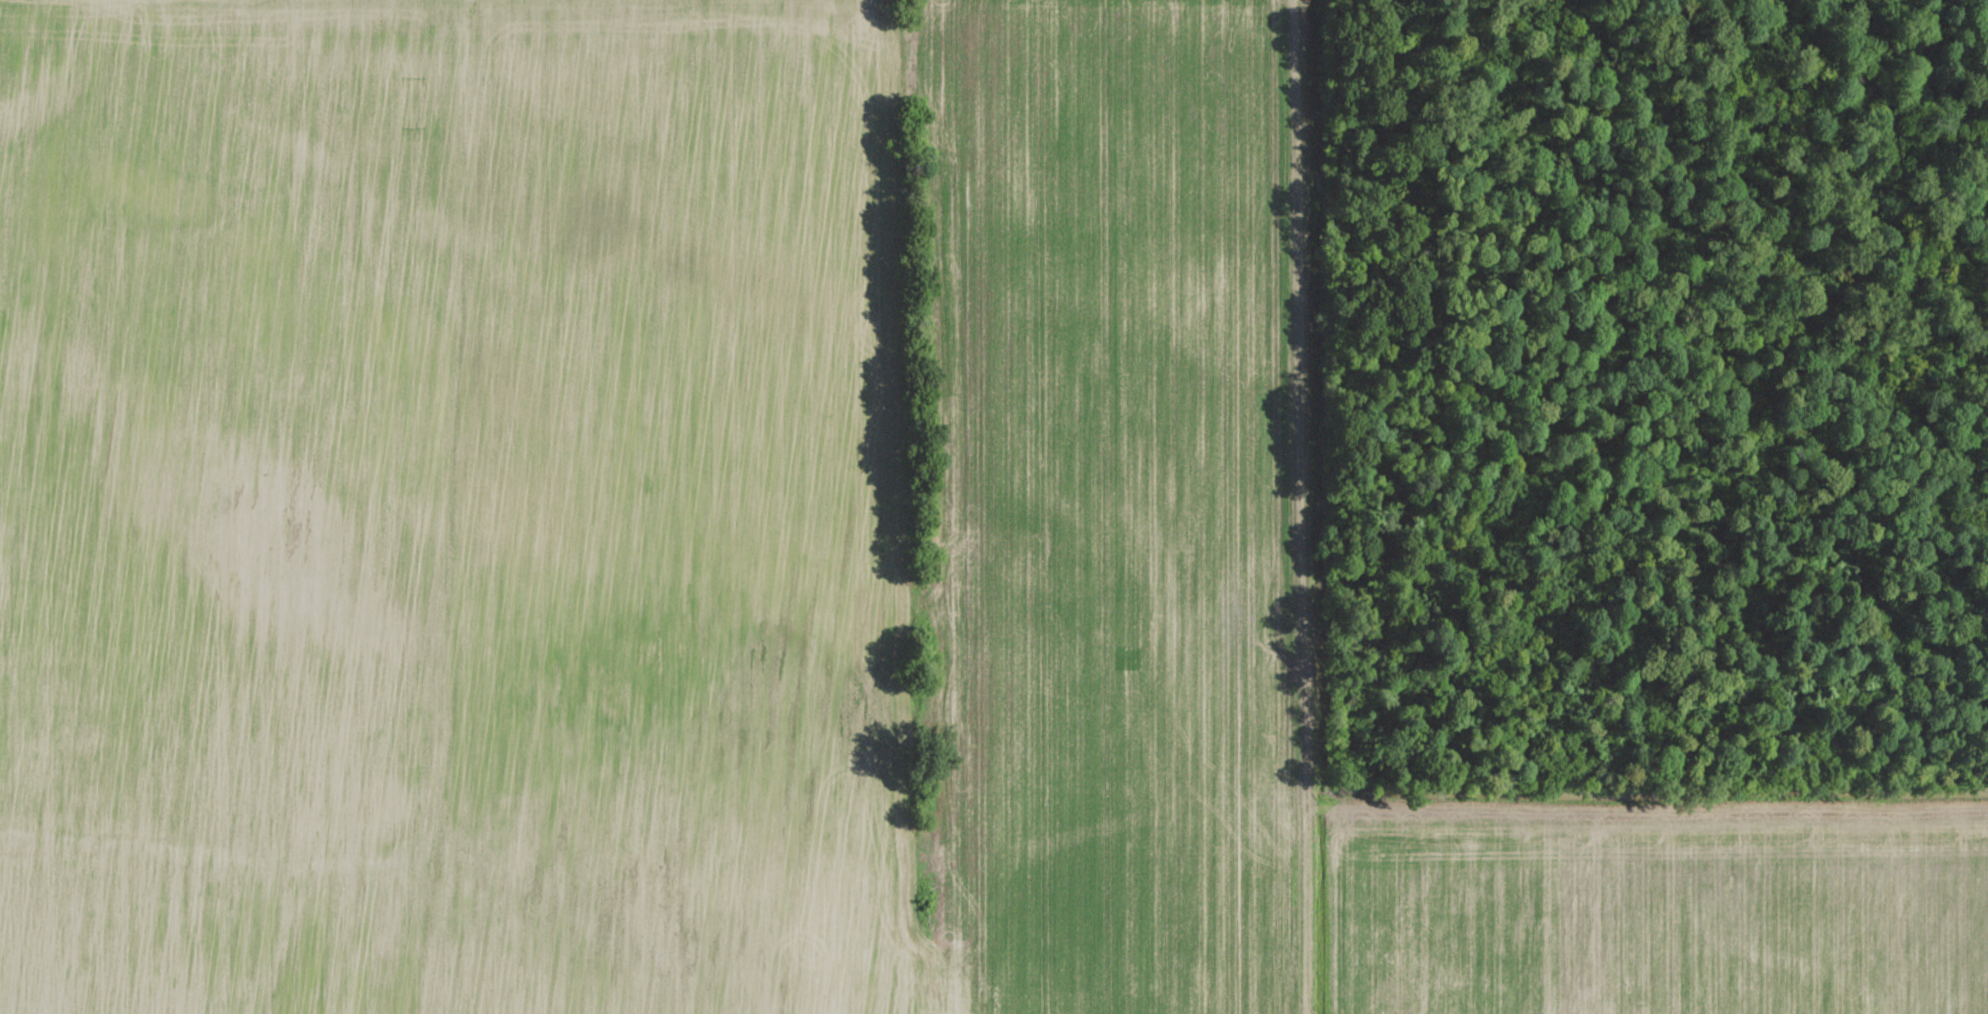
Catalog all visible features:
park: (1659, 387)

